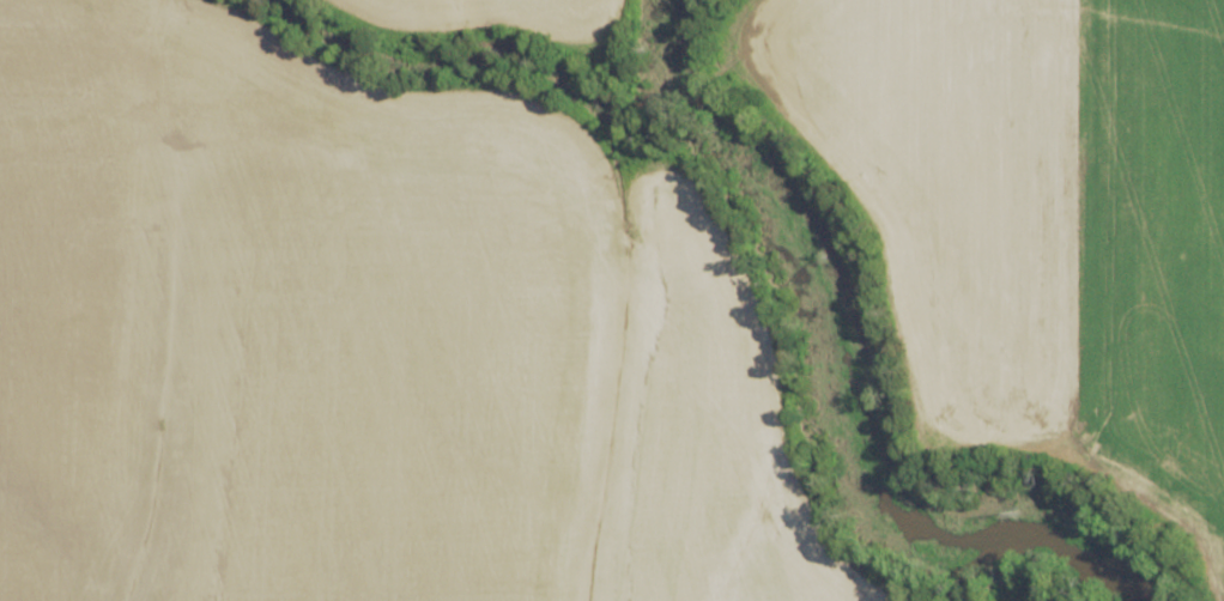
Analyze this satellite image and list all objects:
road: (578, 135)

